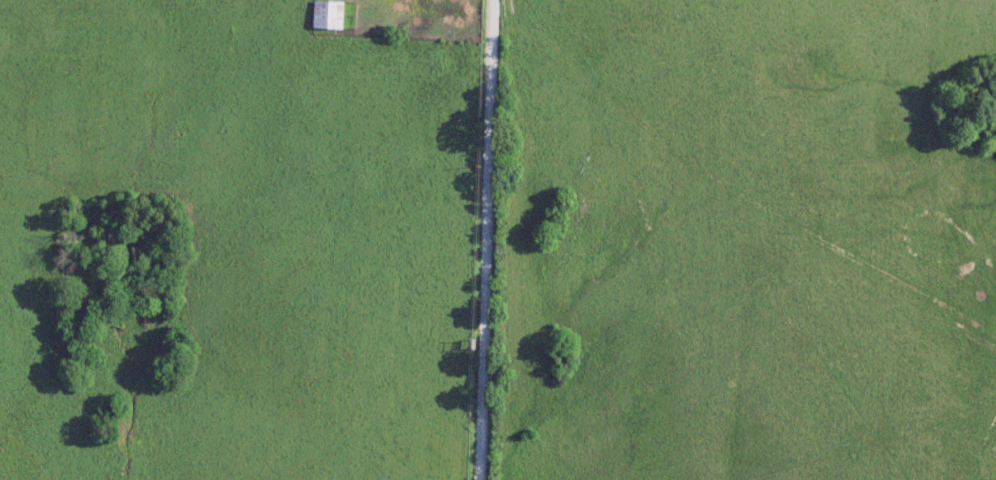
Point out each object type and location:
building: (326, 16)
road: (489, 239)

